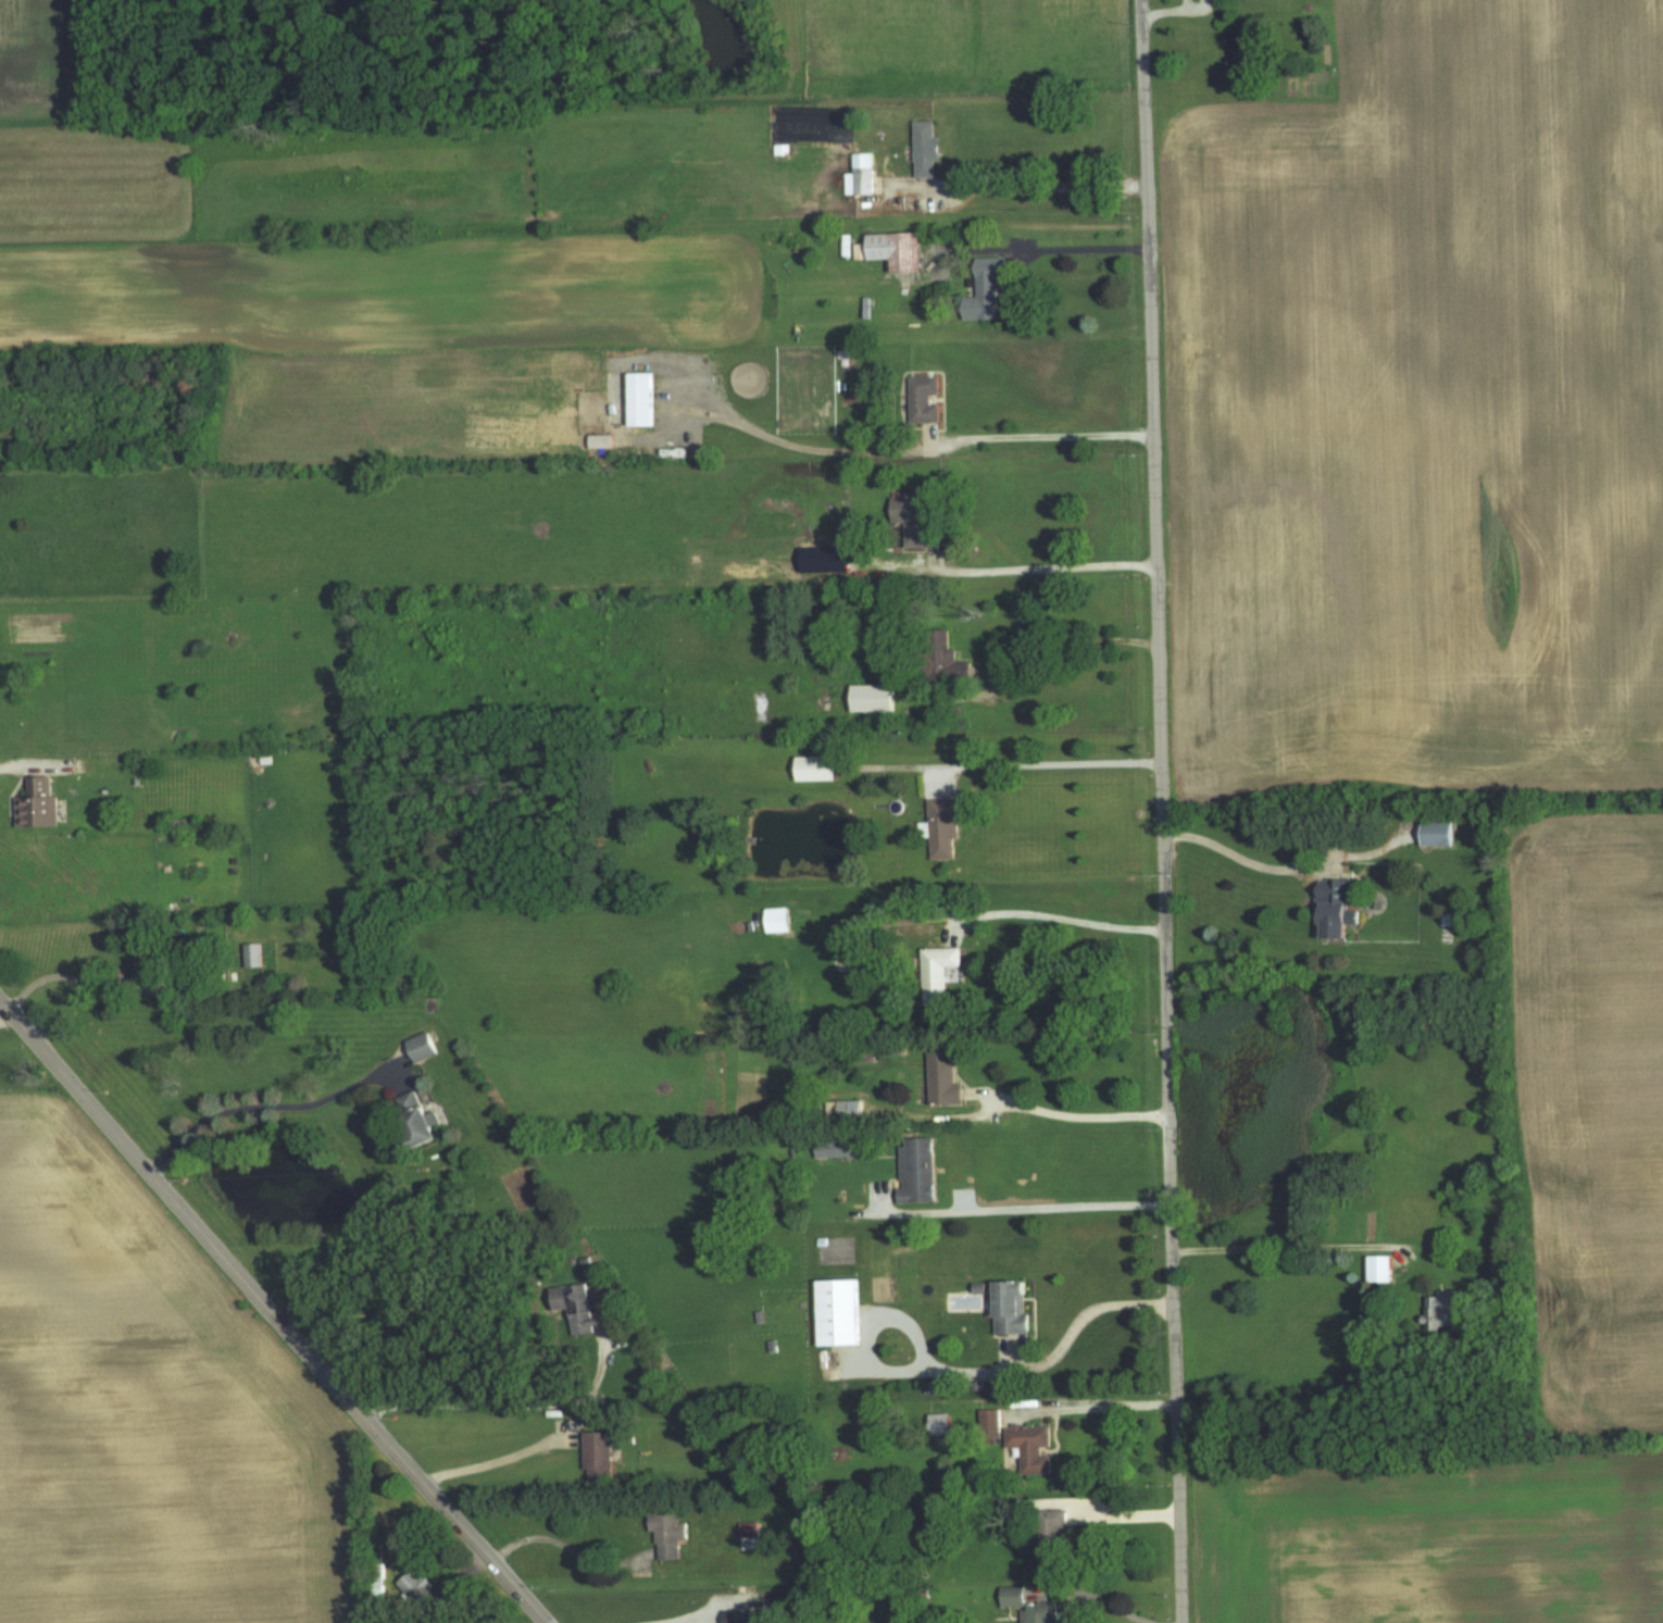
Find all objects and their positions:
building: (927, 149)
building: (863, 175)
road: (1021, 186)
road: (1067, 248)
building: (895, 250)
building: (987, 289)
building: (925, 399)
building: (645, 400)
building: (604, 442)
road: (935, 445)
building: (920, 521)
building: (828, 560)
road: (1036, 570)
road: (1066, 646)
building: (875, 697)
road: (18, 766)
road: (1052, 766)
building: (820, 767)
building: (38, 803)
road: (1161, 811)
building: (945, 827)
building: (1440, 833)
road: (1229, 852)
building: (1339, 907)
building: (780, 920)
road: (1055, 922)
building: (254, 954)
building: (143, 959)
building: (942, 970)
road: (60, 972)
building: (424, 1046)
building: (946, 1077)
road: (261, 1109)
road: (1075, 1120)
building: (843, 1148)
building: (921, 1171)
road: (1031, 1209)
road: (1287, 1248)
building: (1383, 1269)
building: (1015, 1307)
building: (583, 1310)
building: (1442, 1310)
building: (841, 1312)
road: (272, 1313)
road: (970, 1369)
road: (1113, 1404)
road: (502, 1409)
building: (991, 1419)
building: (943, 1423)
building: (1033, 1447)
road: (490, 1463)
road: (1117, 1508)
building: (753, 1533)
building: (671, 1534)
road: (561, 1547)
building: (417, 1586)
building: (1016, 1596)
road: (1095, 1597)
building: (1042, 1612)
building: (747, 1616)
road: (689, 1619)

